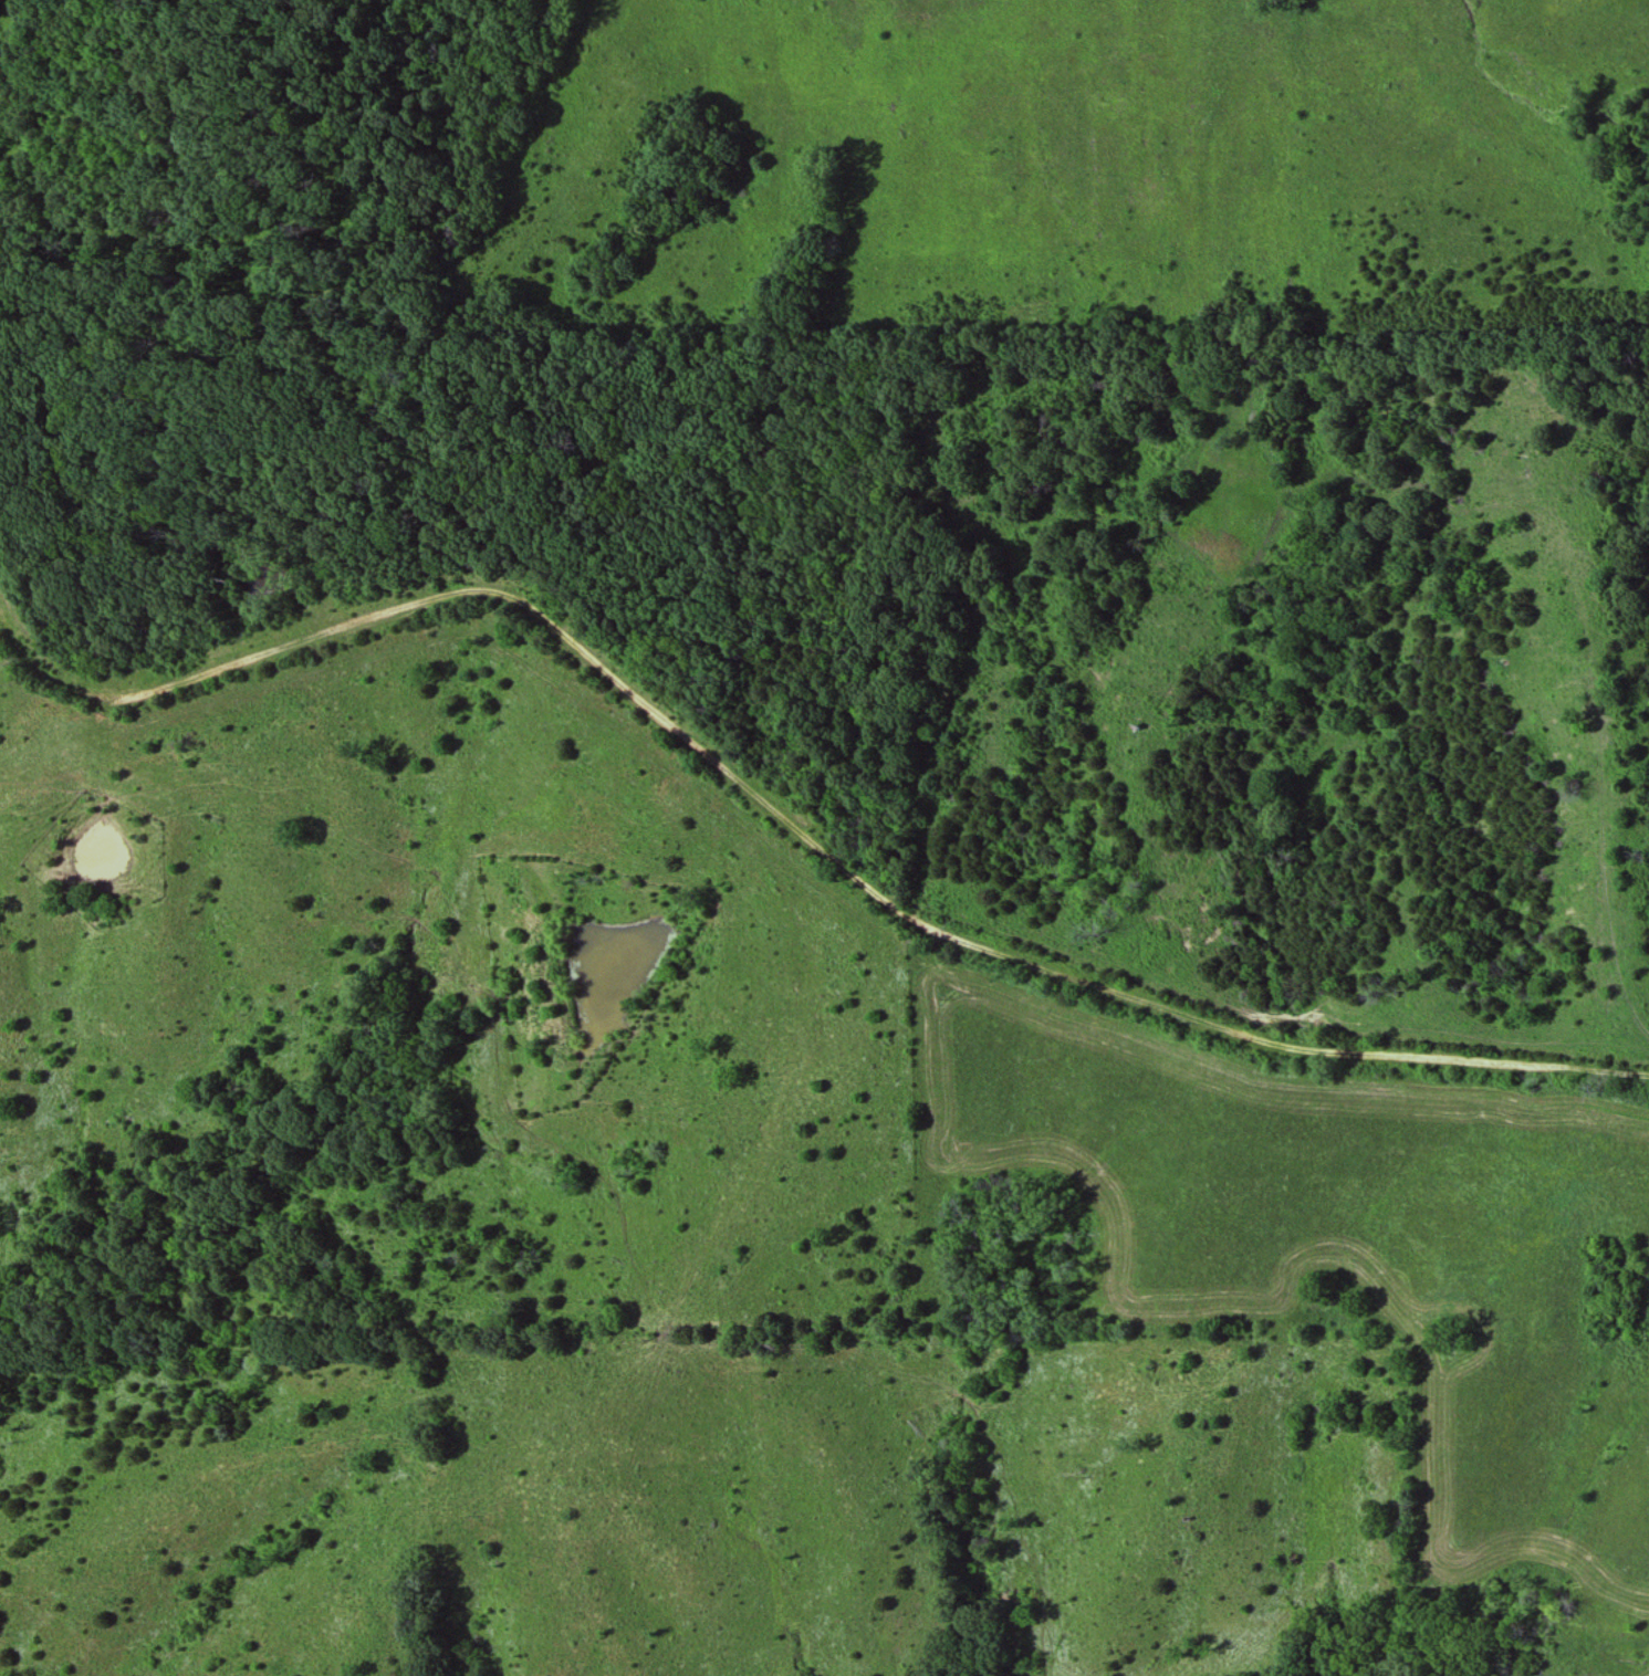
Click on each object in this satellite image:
road: (790, 825)

